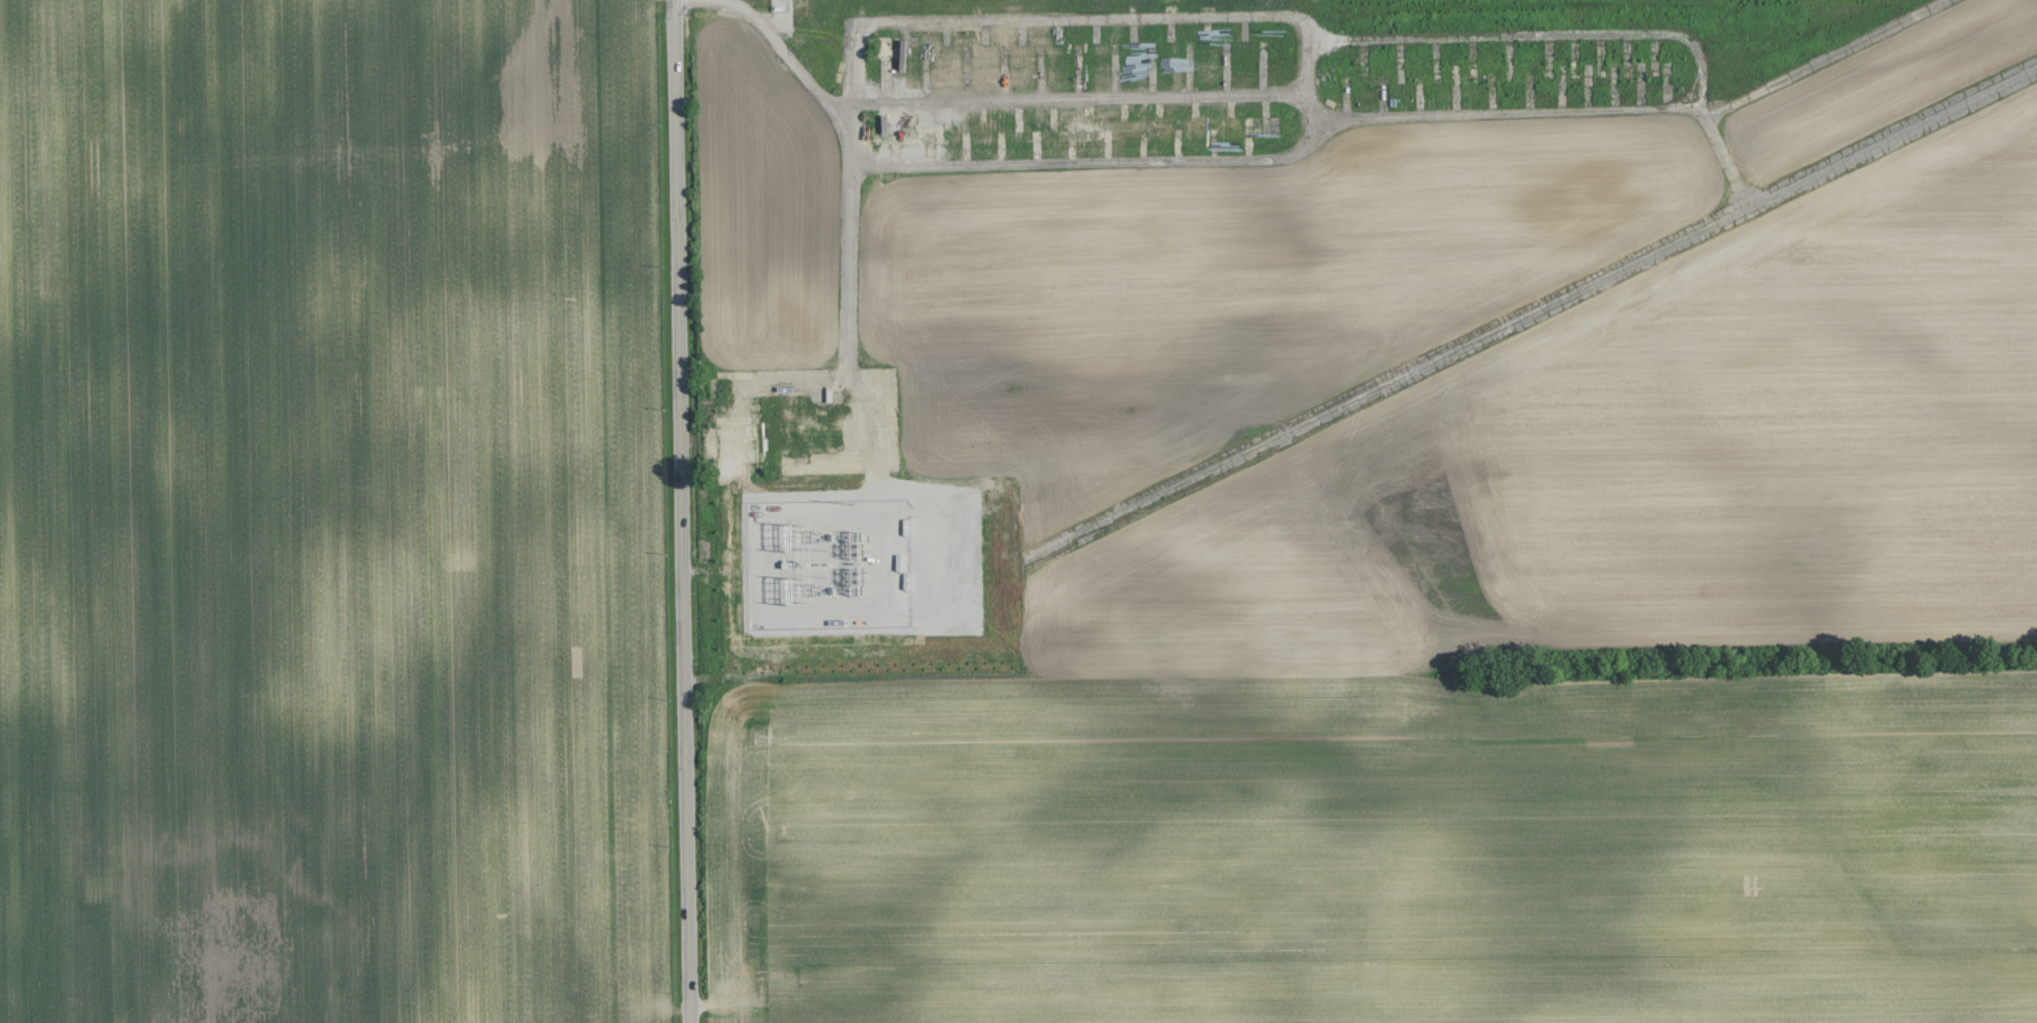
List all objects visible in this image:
road: (847, 157)
road: (682, 511)

